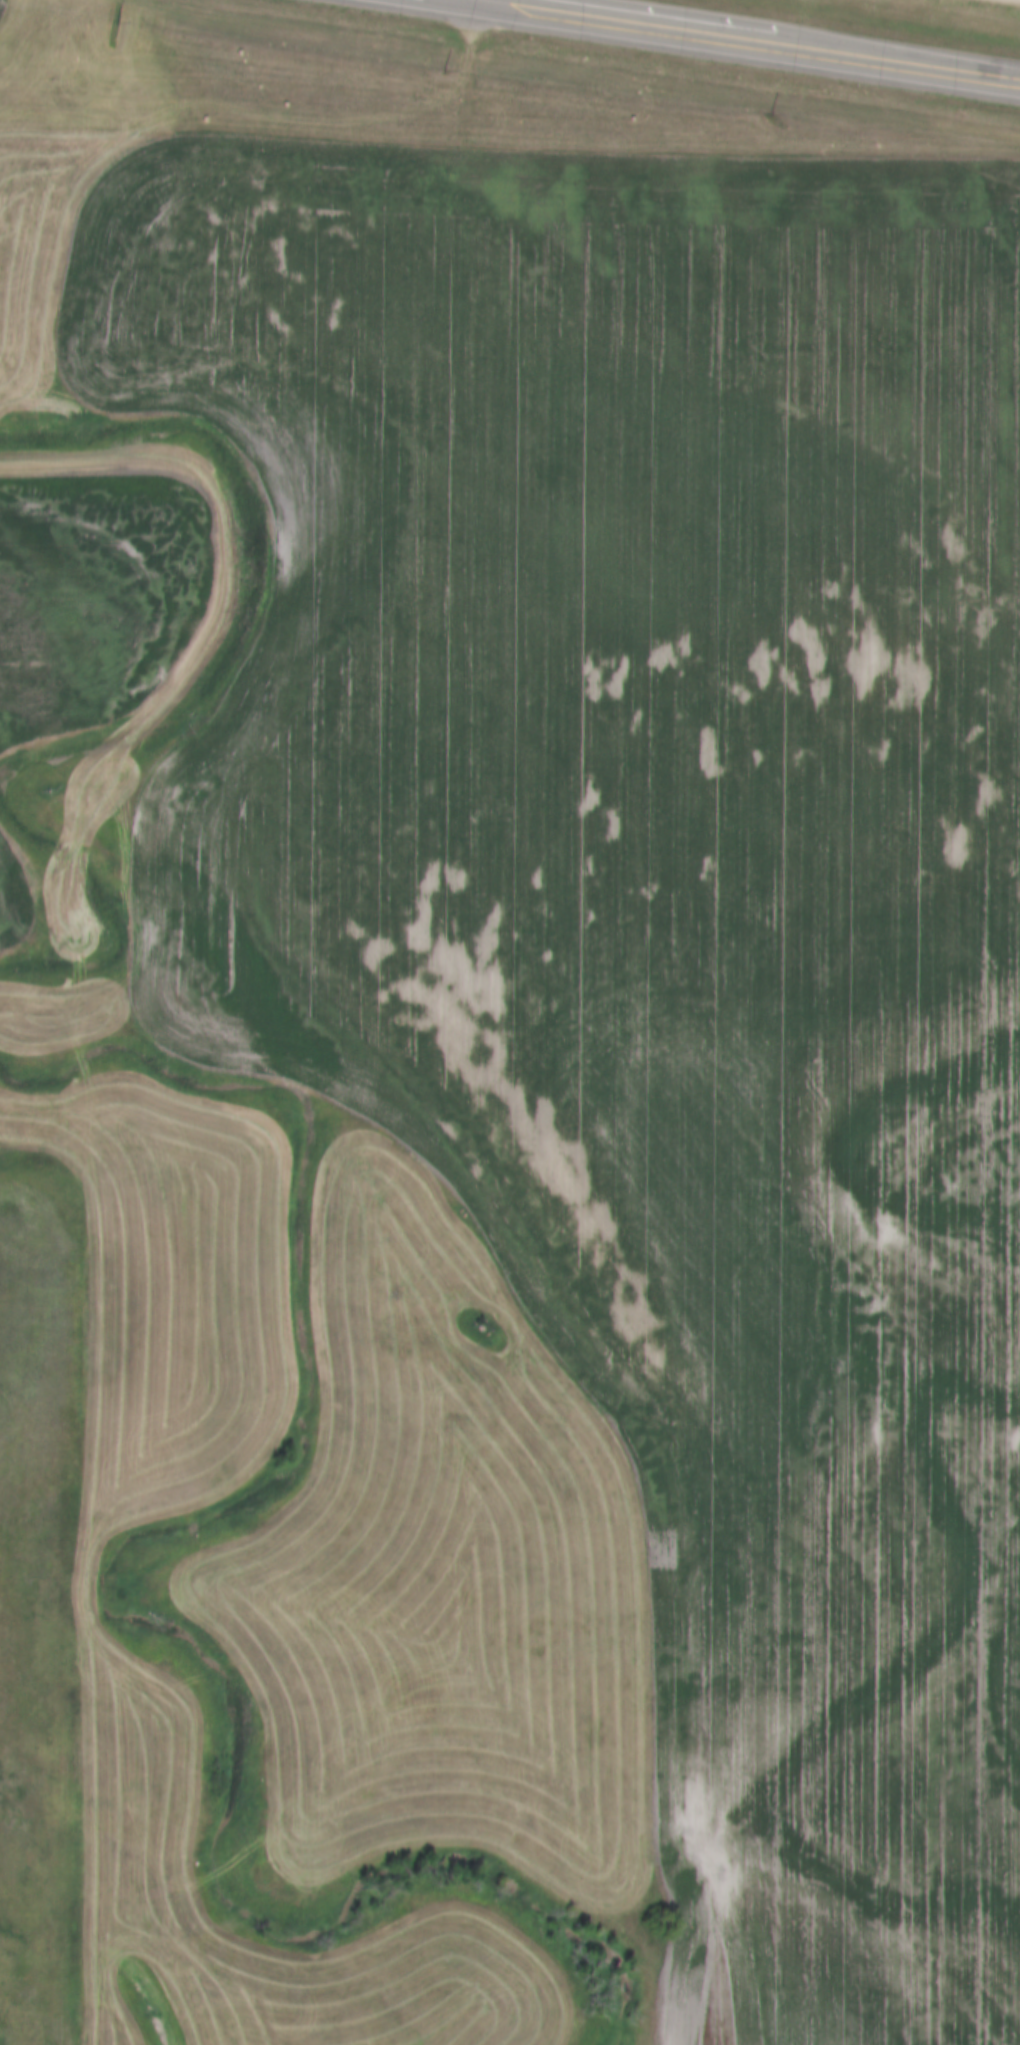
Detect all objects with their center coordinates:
road: (477, 2)
road: (731, 42)

